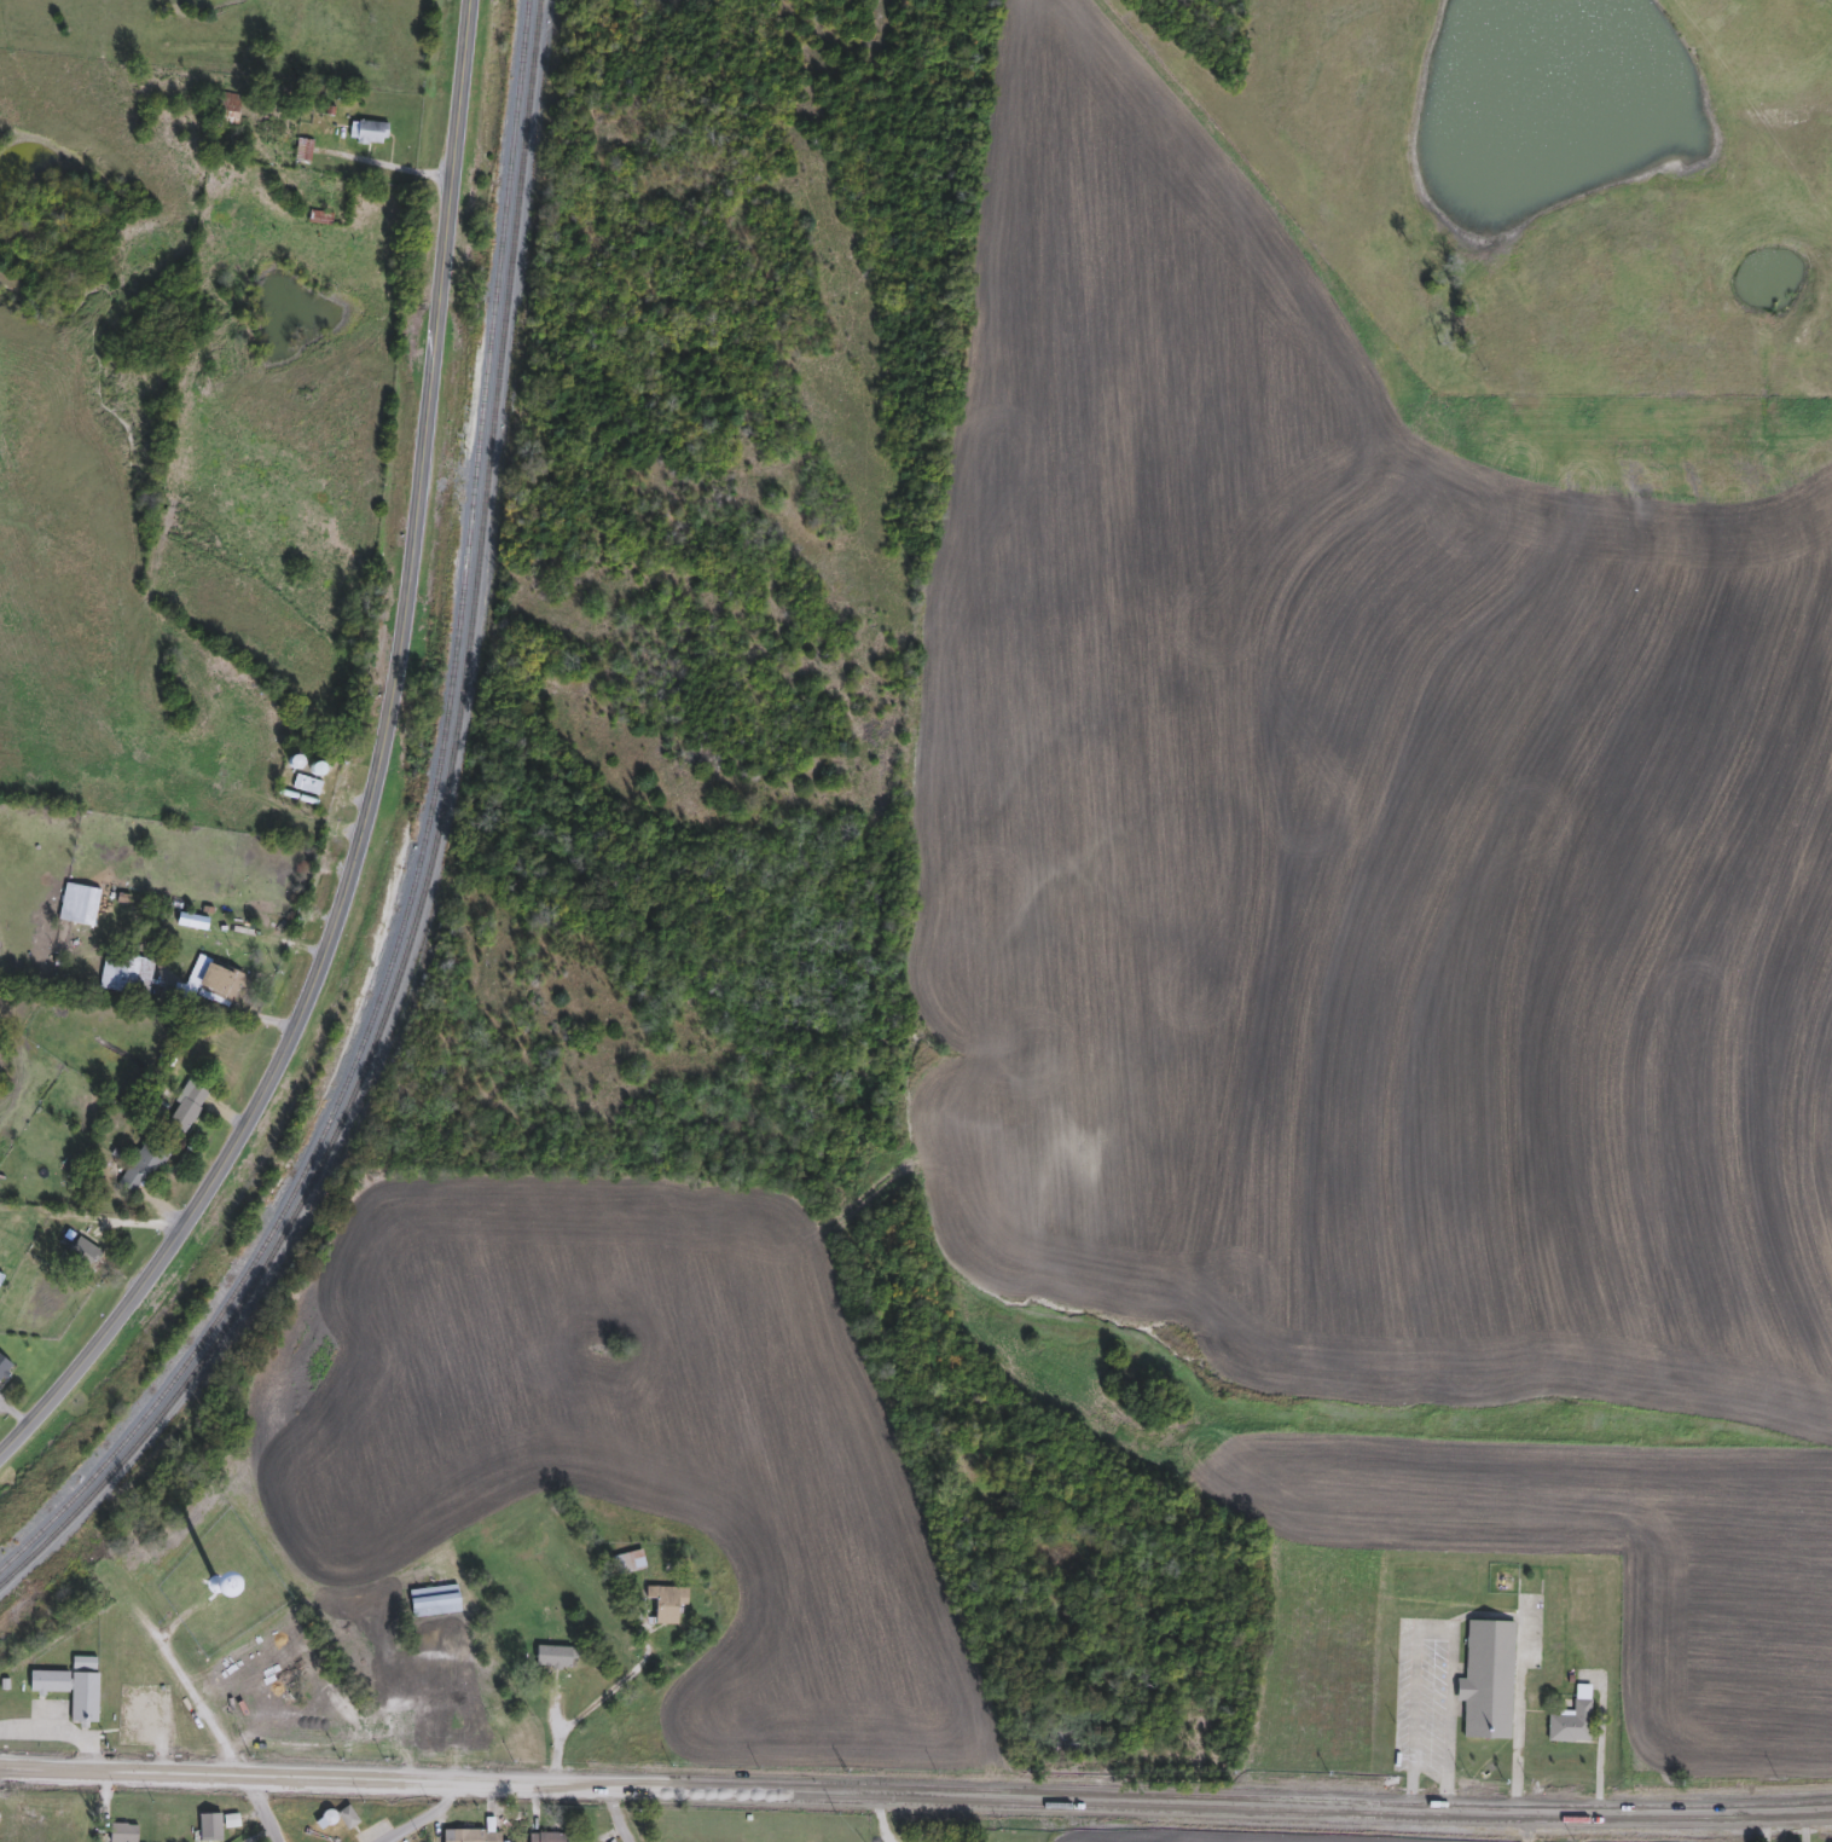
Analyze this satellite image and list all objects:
building: (228, 109)
building: (370, 133)
road: (394, 166)
road: (381, 783)
building: (307, 786)
railway: (422, 845)
railway: (431, 855)
building: (79, 904)
building: (126, 974)
building: (209, 981)
building: (186, 1107)
building: (143, 1166)
building: (85, 1253)
building: (1, 1279)
building: (5, 1368)
building: (630, 1562)
building: (435, 1601)
building: (667, 1604)
road: (1434, 1628)
building: (555, 1658)
building: (1486, 1681)
building: (73, 1686)
building: (439, 1686)
building: (320, 1702)
road: (1519, 1709)
road: (584, 1711)
building: (1572, 1722)
building: (418, 1728)
road: (216, 1738)
road: (1598, 1742)
road: (916, 1795)
road: (618, 1815)
road: (424, 1817)
building: (348, 1818)
building: (210, 1827)
road: (1766, 1827)
building: (123, 1834)
building: (473, 1836)
building: (547, 1837)

